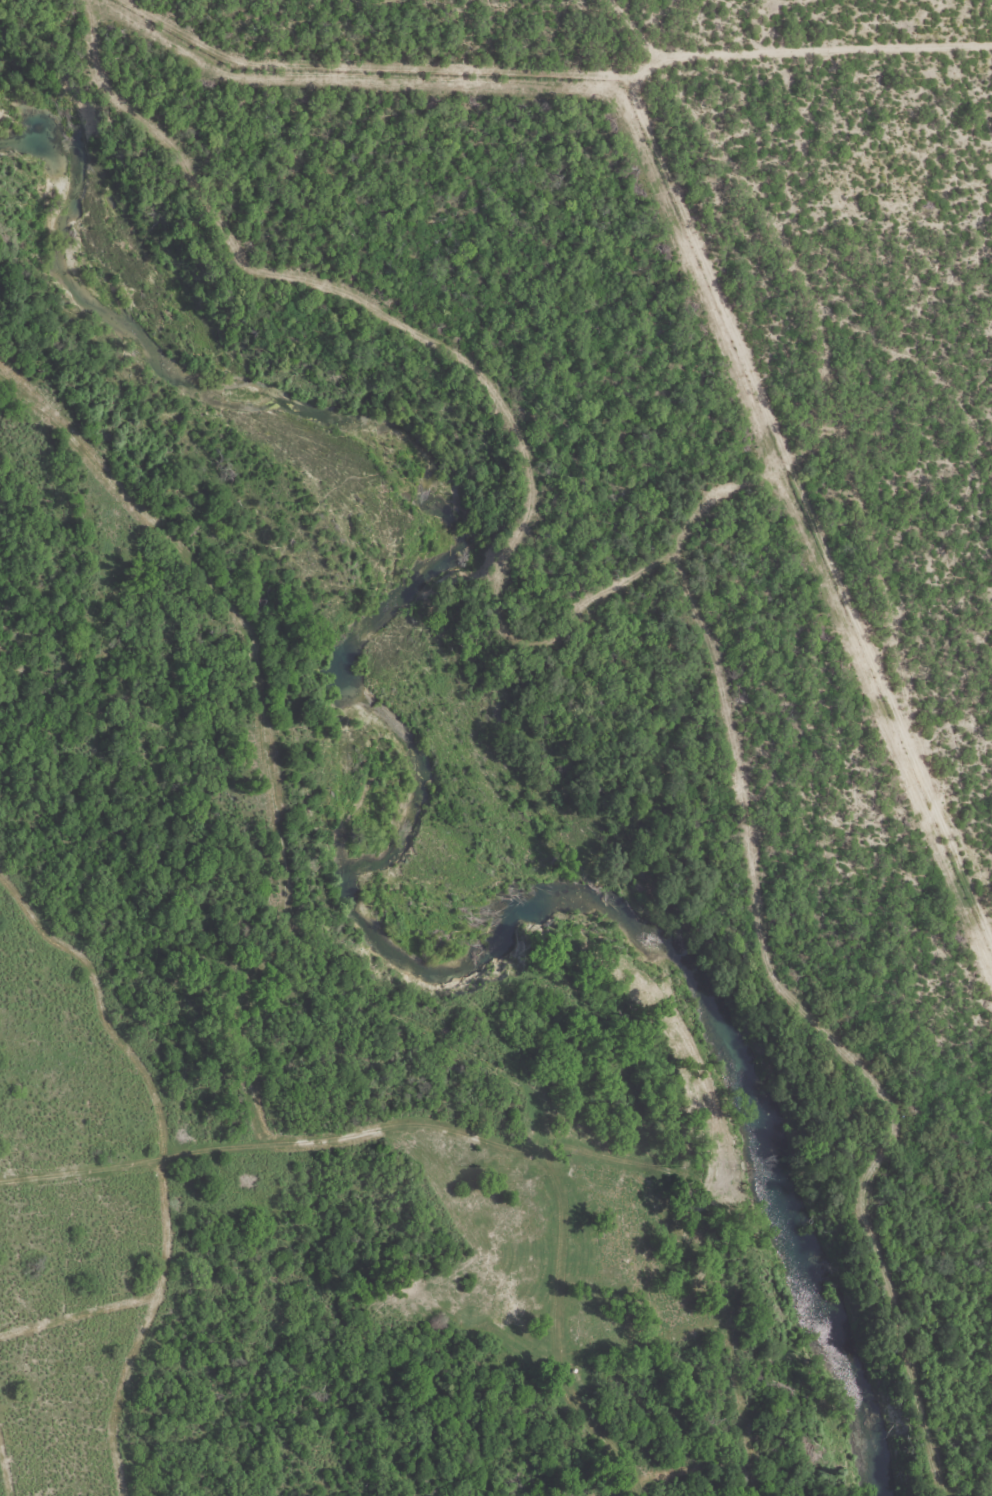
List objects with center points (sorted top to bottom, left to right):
road: (940, 424)
road: (855, 458)
river: (419, 780)
road: (441, 979)
road: (264, 1143)

